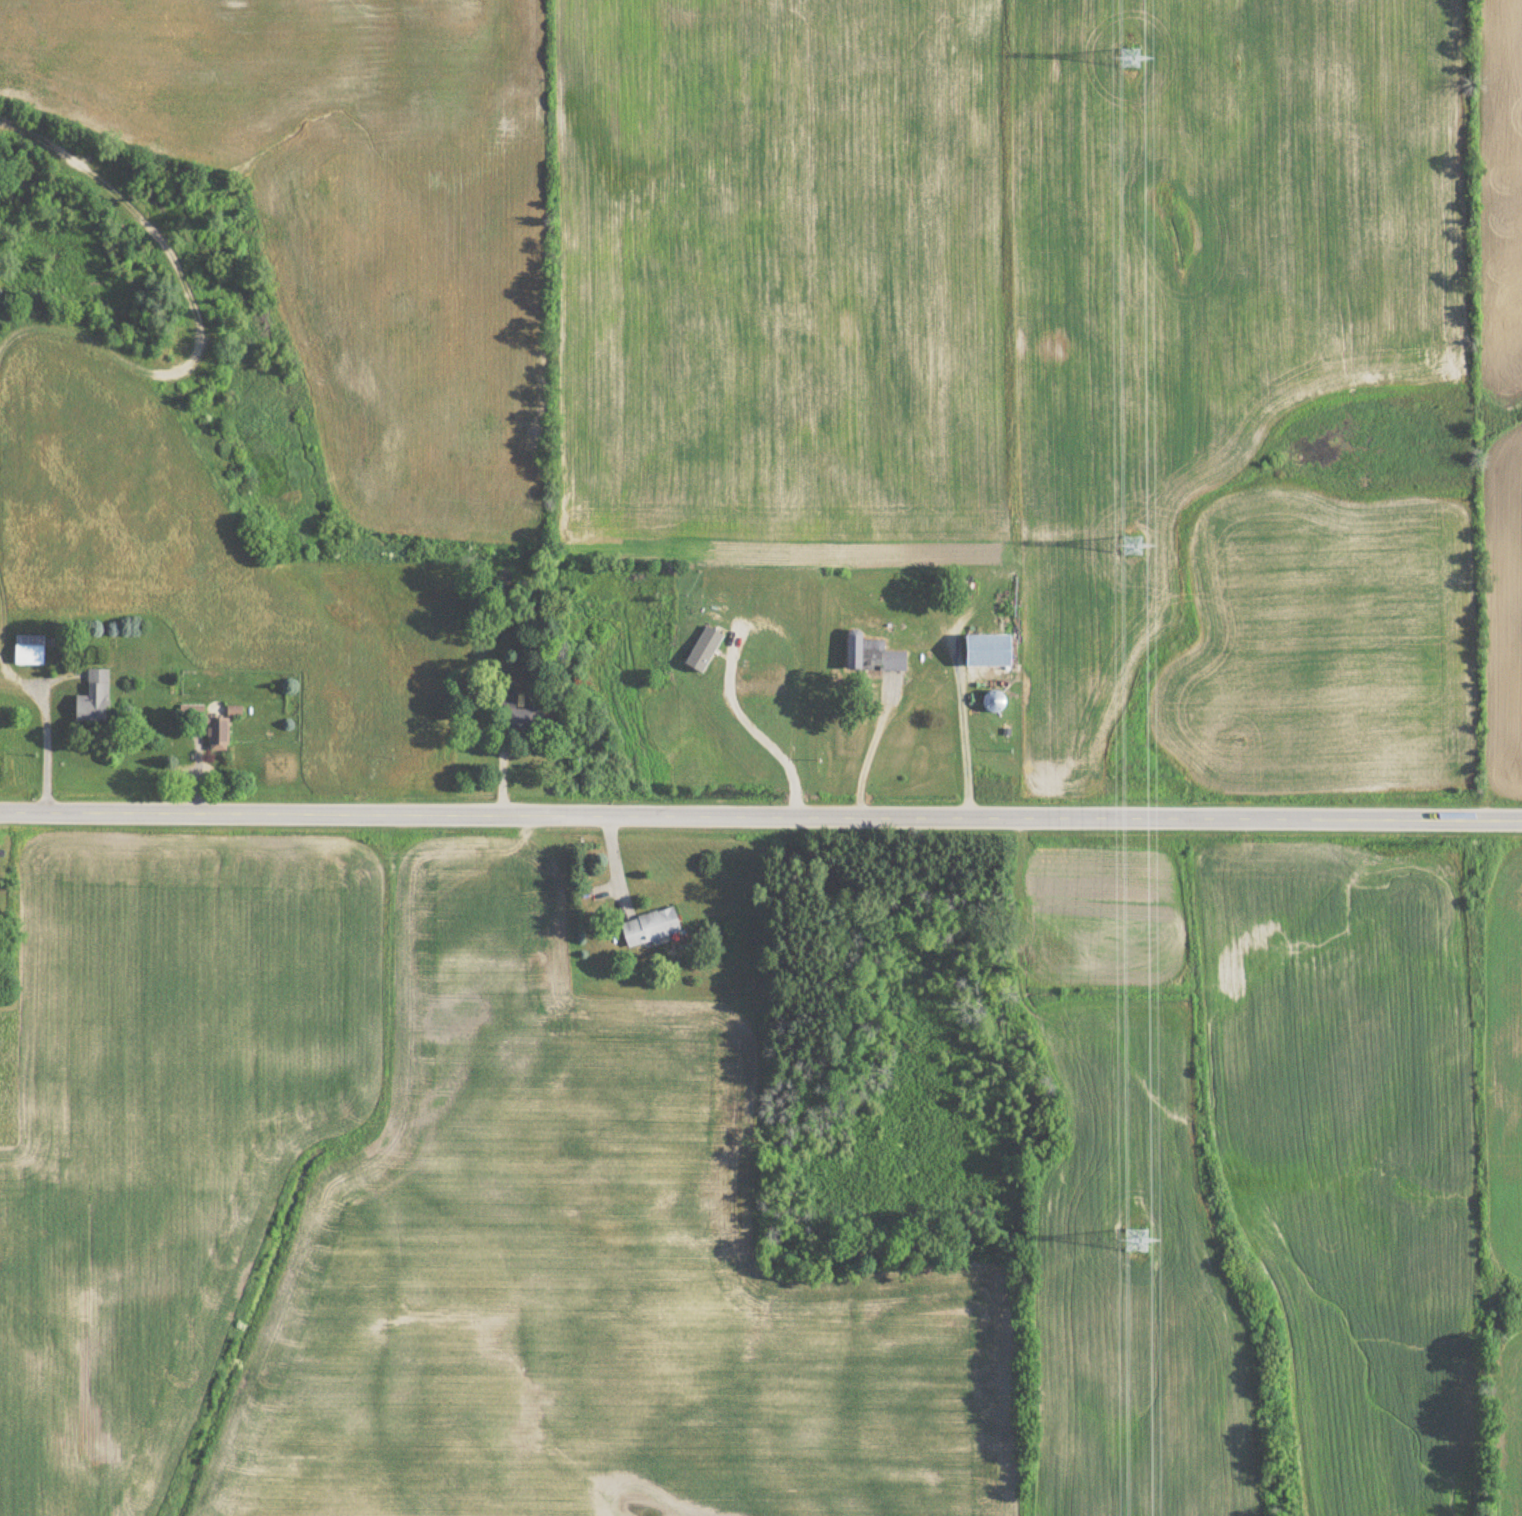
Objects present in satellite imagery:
power tower: (1131, 59)
power tower: (1127, 530)
building: (28, 649)
building: (986, 649)
building: (871, 653)
building: (93, 697)
building: (520, 713)
road: (757, 728)
building: (217, 738)
road: (873, 752)
road: (761, 817)
building: (650, 927)
power tower: (1133, 1229)

